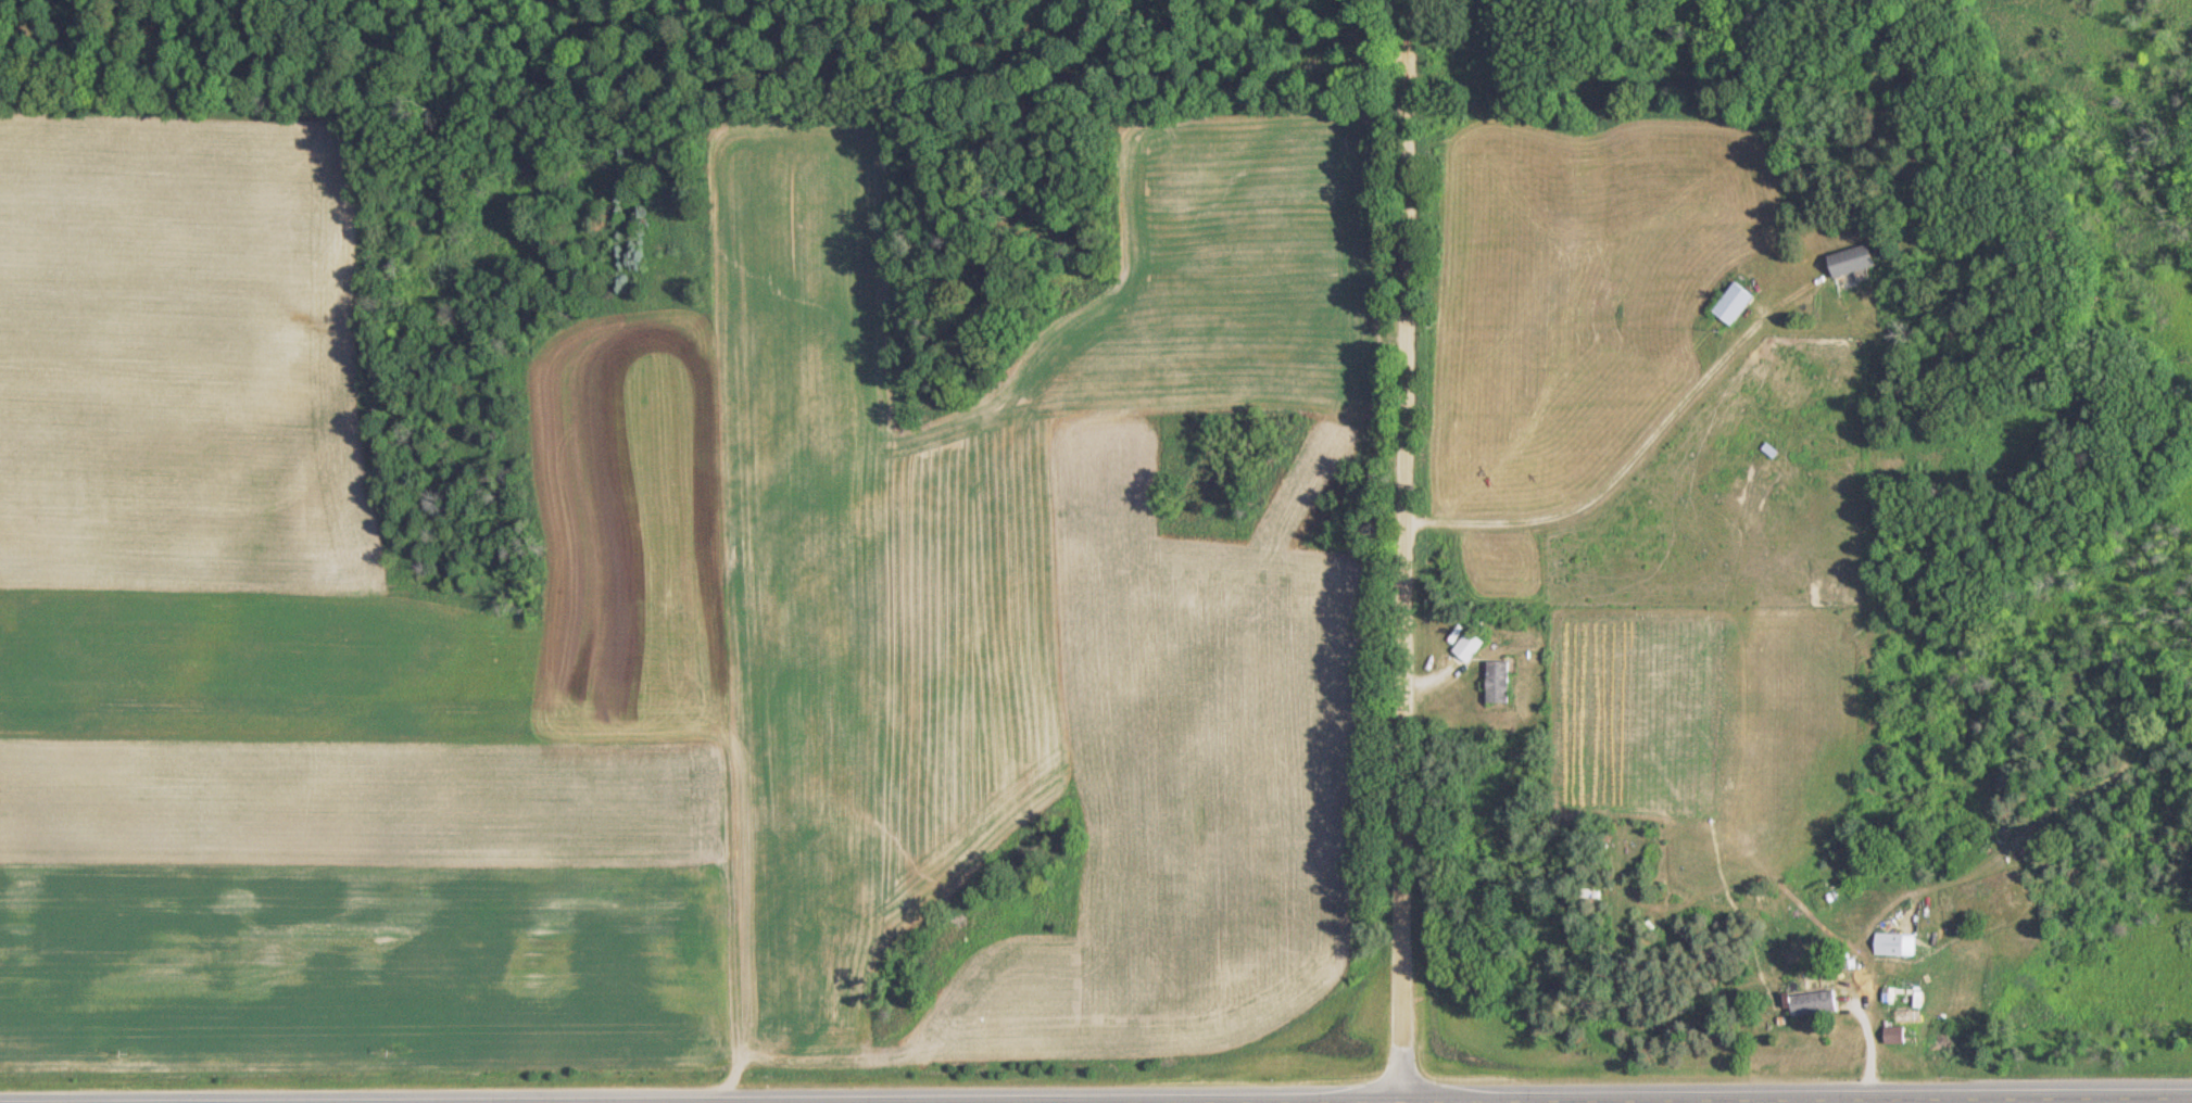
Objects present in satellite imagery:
building: (1844, 262)
building: (1726, 304)
road: (1398, 550)
building: (1492, 681)
building: (1884, 943)
building: (1806, 1002)
road: (1627, 1098)

